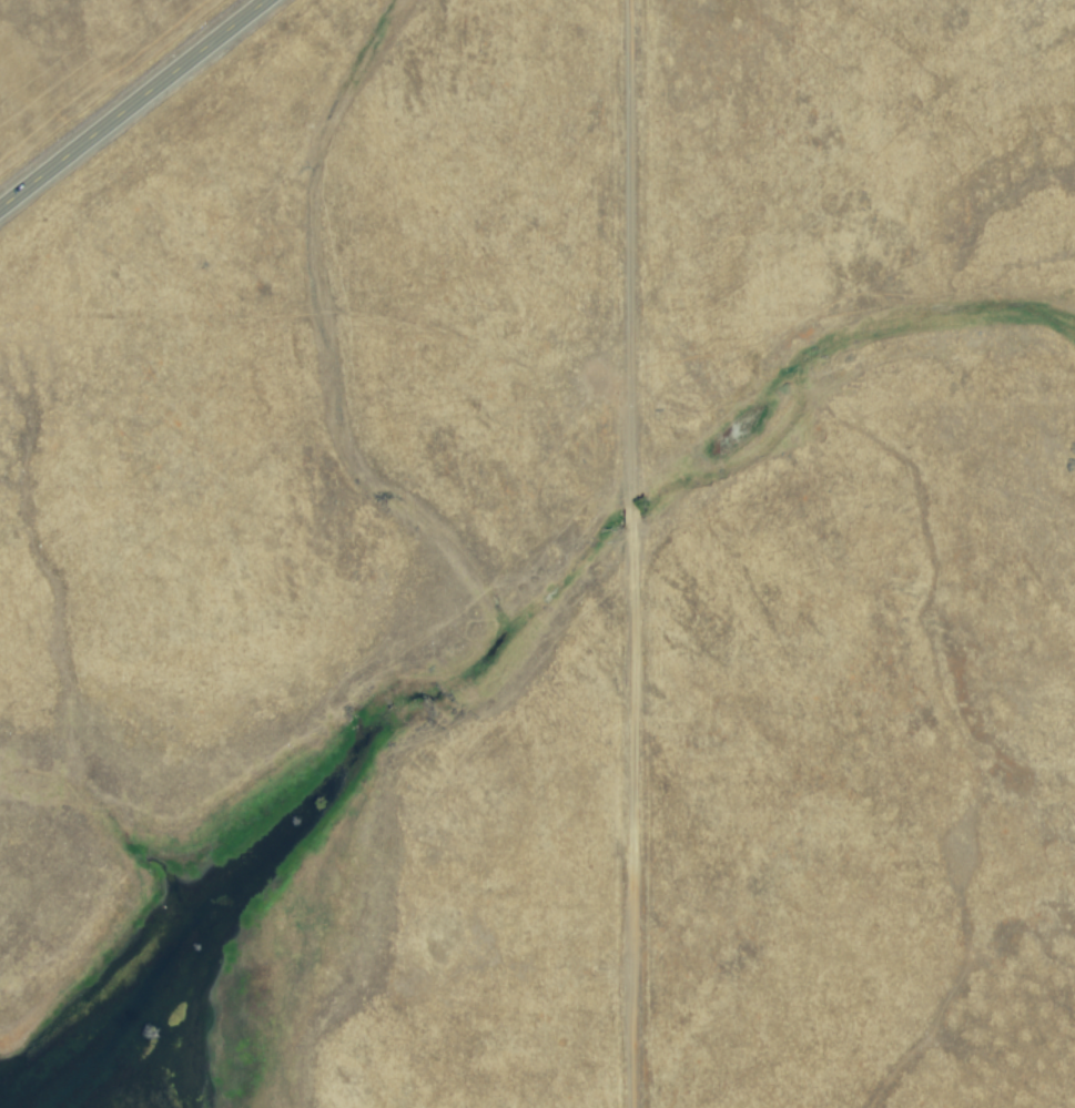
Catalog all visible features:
road: (133, 103)
road: (635, 553)

